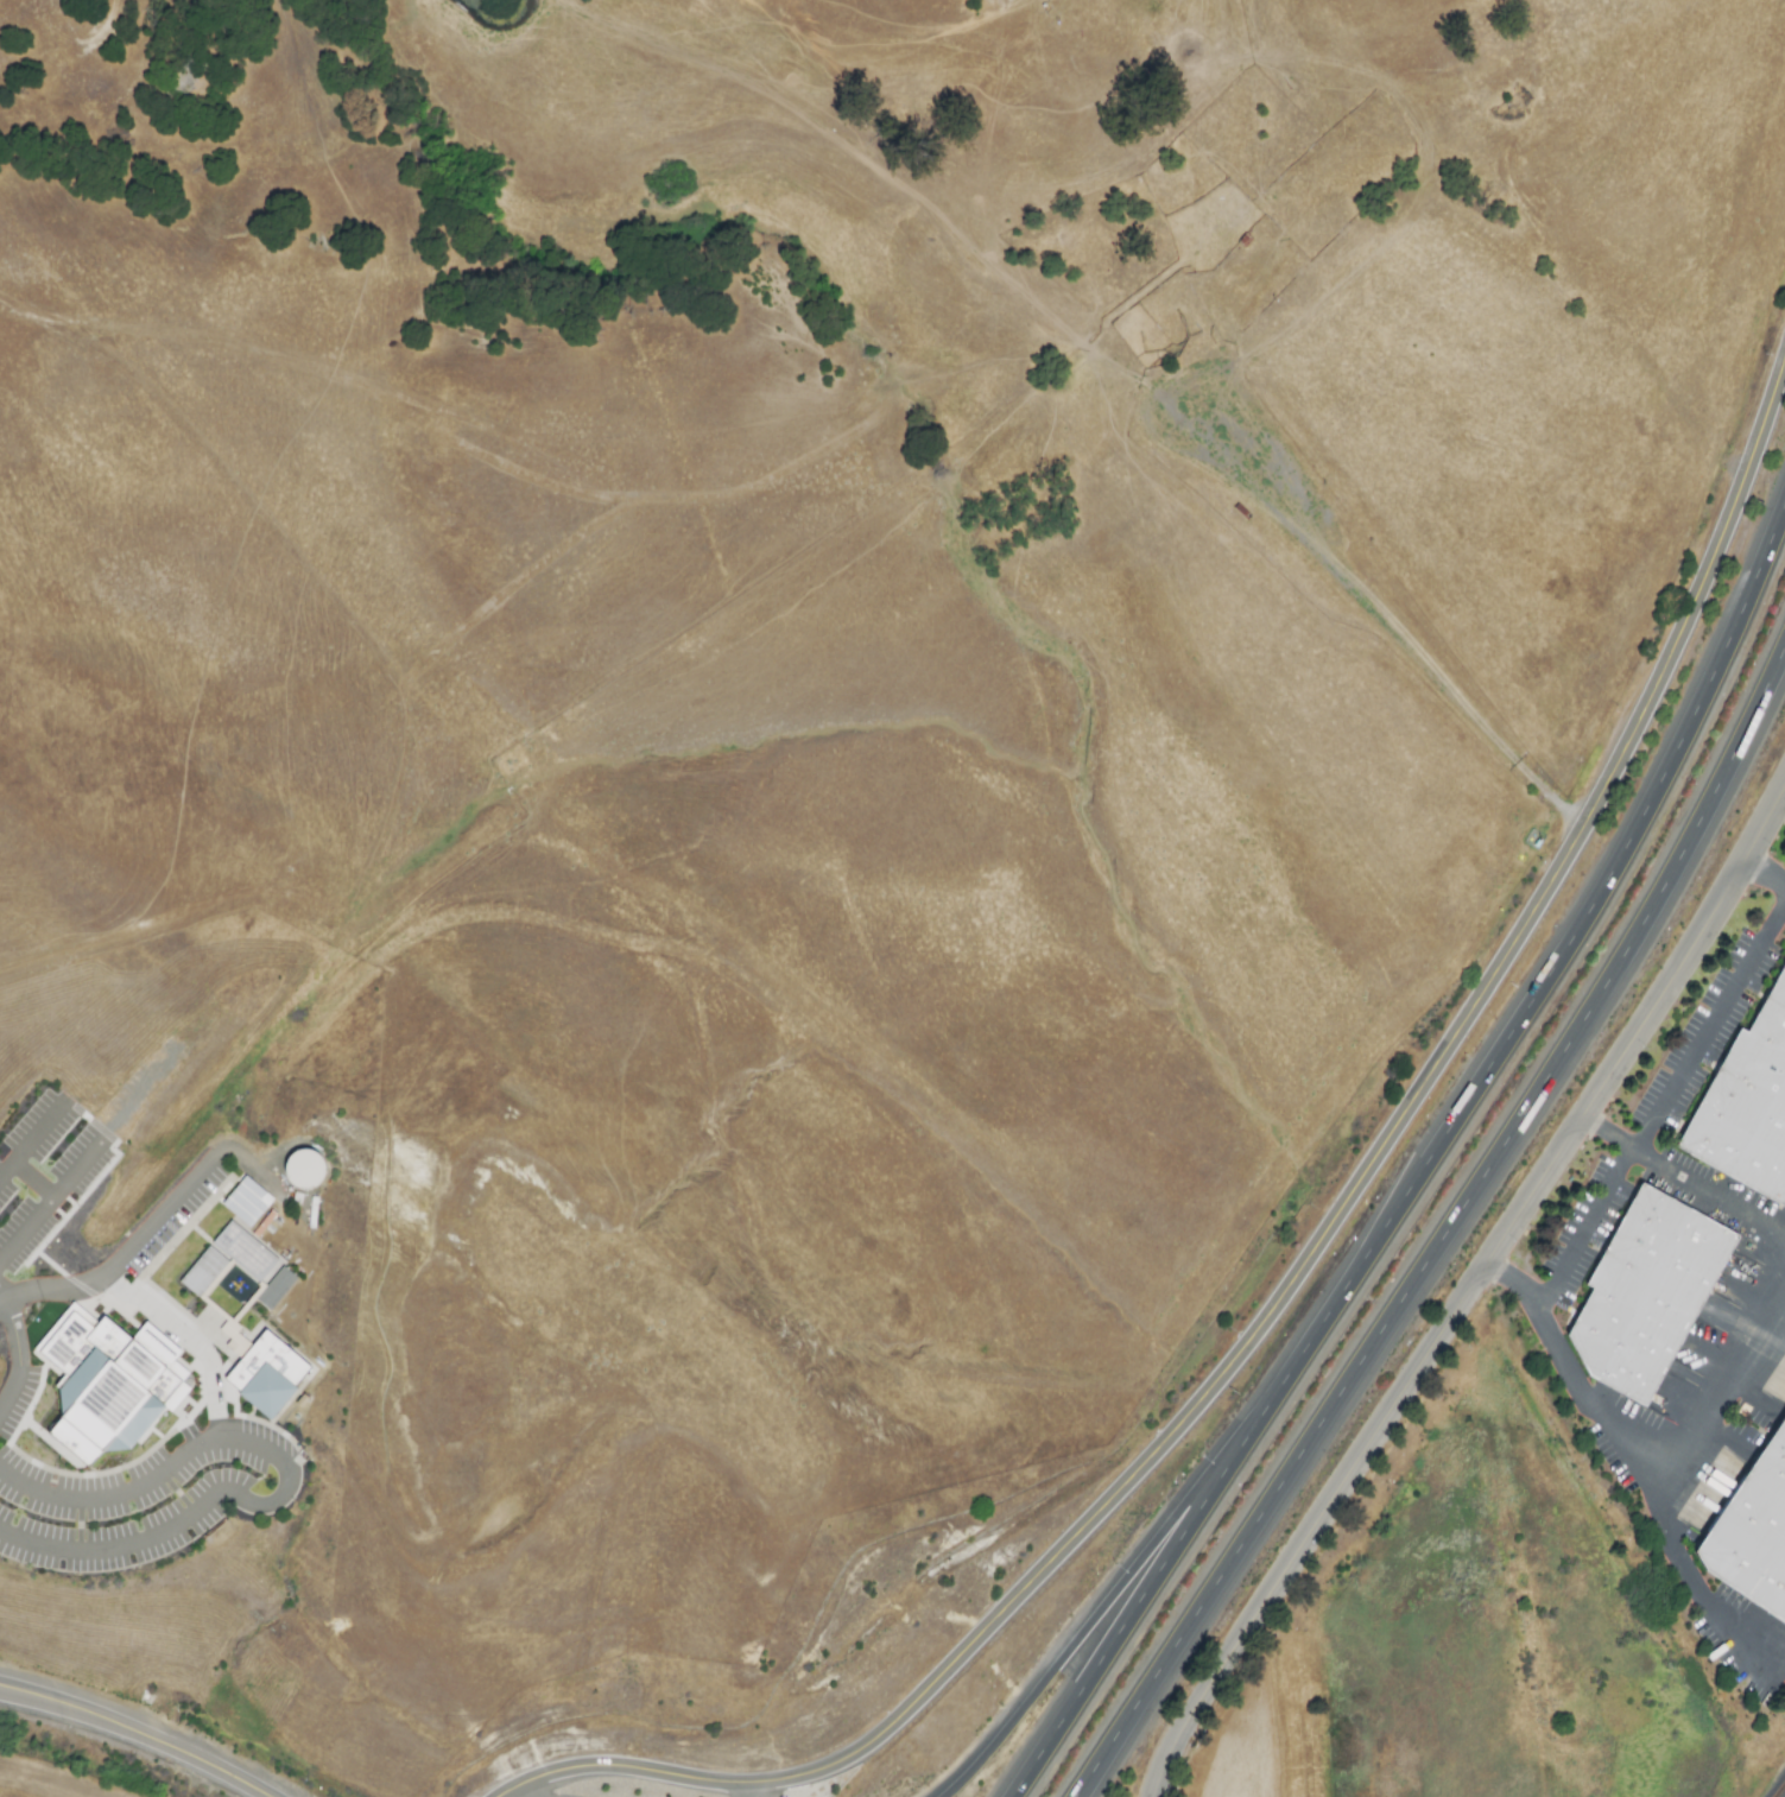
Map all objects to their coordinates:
road: (1409, 615)
road: (1764, 873)
road: (1542, 985)
road: (1660, 1106)
building: (1747, 1109)
road: (114, 1121)
road: (38, 1131)
building: (303, 1169)
storage tank: (303, 1169)
road: (1684, 1182)
road: (51, 1200)
building: (247, 1202)
road: (166, 1213)
road: (1447, 1232)
building: (242, 1251)
road: (1303, 1270)
building: (202, 1271)
road: (1519, 1283)
building: (274, 1289)
road: (1471, 1289)
road: (53, 1290)
building: (1648, 1295)
road: (2, 1296)
building: (232, 1336)
road: (18, 1355)
building: (265, 1375)
building: (124, 1381)
road: (1720, 1396)
road: (285, 1488)
road: (1645, 1493)
road: (105, 1497)
building: (1754, 1537)
road: (1094, 1616)
road: (1128, 1616)
road: (50, 1701)
road: (186, 1751)
road: (752, 1790)
railway: (1781, 1793)
road: (507, 1796)

